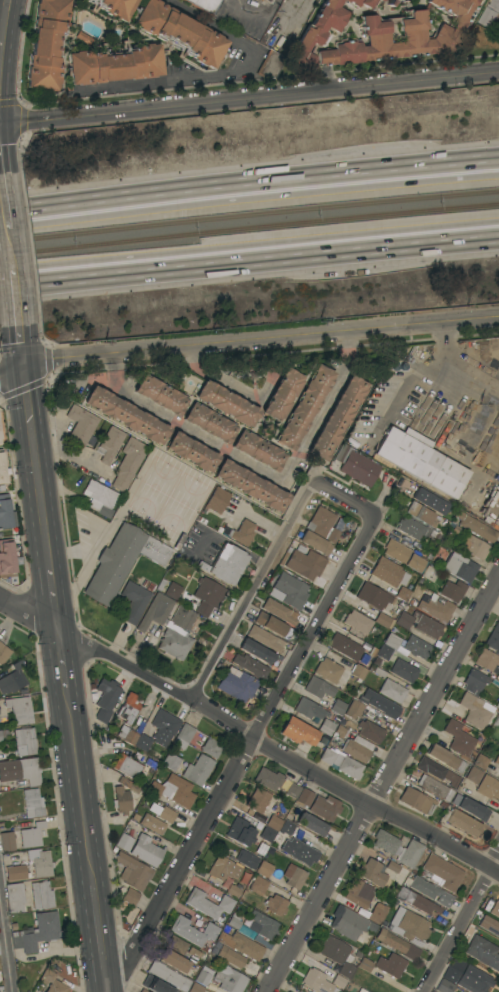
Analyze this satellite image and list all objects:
building: (268, 1)
building: (203, 5)
building: (116, 7)
road: (268, 13)
building: (488, 13)
road: (4, 19)
building: (382, 30)
building: (179, 32)
building: (83, 38)
road: (0, 44)
building: (46, 45)
building: (113, 64)
building: (270, 65)
road: (225, 75)
road: (249, 97)
road: (9, 100)
road: (249, 191)
railway: (249, 215)
road: (5, 221)
railway: (249, 228)
road: (249, 253)
road: (13, 293)
road: (304, 336)
road: (19, 347)
road: (66, 364)
road: (456, 367)
traffic signals: (22, 370)
road: (11, 371)
building: (160, 395)
building: (282, 395)
building: (226, 403)
building: (304, 407)
building: (126, 415)
building: (337, 418)
building: (209, 423)
road: (58, 424)
building: (80, 425)
building: (0, 441)
building: (110, 444)
building: (258, 450)
building: (191, 452)
road: (69, 457)
building: (421, 460)
road: (489, 460)
building: (128, 463)
building: (356, 466)
road: (260, 467)
road: (35, 469)
building: (2, 470)
building: (250, 485)
road: (345, 496)
building: (99, 498)
building: (216, 500)
building: (430, 501)
building: (4, 512)
road: (296, 513)
building: (425, 516)
road: (258, 520)
building: (322, 525)
building: (476, 528)
building: (415, 530)
building: (243, 533)
road: (104, 536)
building: (315, 543)
building: (475, 547)
building: (402, 555)
building: (6, 559)
building: (122, 561)
building: (305, 563)
building: (225, 565)
building: (460, 567)
building: (386, 571)
building: (173, 591)
building: (288, 591)
building: (453, 591)
building: (403, 593)
building: (207, 596)
building: (373, 596)
road: (53, 600)
building: (133, 601)
building: (435, 608)
building: (278, 611)
road: (236, 620)
building: (383, 620)
building: (404, 620)
building: (358, 622)
building: (169, 625)
building: (272, 625)
building: (426, 625)
building: (493, 638)
building: (265, 639)
building: (345, 647)
building: (388, 647)
building: (417, 647)
building: (256, 651)
building: (3, 653)
building: (498, 653)
road: (61, 659)
building: (487, 660)
building: (250, 666)
building: (328, 670)
building: (404, 671)
building: (359, 672)
building: (379, 673)
building: (14, 678)
building: (474, 682)
building: (494, 683)
building: (237, 684)
building: (318, 688)
building: (392, 691)
building: (498, 693)
building: (106, 699)
building: (379, 704)
building: (497, 704)
building: (337, 707)
building: (128, 708)
building: (19, 710)
building: (310, 710)
building: (474, 711)
building: (367, 721)
building: (496, 721)
building: (164, 727)
building: (326, 727)
building: (298, 732)
building: (340, 732)
building: (126, 734)
building: (183, 736)
road: (250, 736)
building: (0, 738)
building: (458, 738)
building: (24, 741)
building: (142, 742)
building: (211, 748)
building: (357, 749)
road: (241, 755)
building: (446, 758)
building: (496, 760)
building: (480, 761)
building: (171, 762)
building: (341, 763)
building: (132, 766)
building: (198, 770)
building: (21, 771)
building: (437, 771)
building: (473, 775)
building: (268, 779)
building: (128, 785)
road: (78, 786)
road: (382, 786)
building: (488, 787)
building: (435, 788)
building: (155, 789)
building: (292, 790)
building: (180, 791)
building: (304, 798)
building: (121, 800)
building: (258, 800)
building: (417, 801)
building: (32, 803)
building: (324, 807)
building: (470, 807)
building: (166, 815)
building: (462, 822)
building: (152, 824)
building: (311, 824)
building: (272, 825)
building: (286, 828)
building: (240, 832)
building: (31, 835)
building: (7, 841)
building: (124, 842)
building: (385, 842)
building: (146, 851)
building: (299, 851)
building: (409, 855)
building: (247, 859)
building: (40, 863)
building: (392, 867)
building: (223, 869)
building: (264, 869)
building: (16, 872)
building: (372, 872)
building: (442, 873)
building: (132, 877)
building: (294, 877)
building: (258, 885)
building: (234, 890)
building: (428, 891)
building: (41, 895)
building: (357, 895)
building: (14, 897)
building: (417, 901)
building: (208, 904)
building: (275, 905)
building: (494, 909)
building: (378, 914)
building: (350, 923)
road: (460, 923)
building: (238, 925)
building: (262, 925)
building: (489, 925)
building: (409, 926)
building: (193, 931)
building: (36, 932)
road: (97, 938)
building: (396, 944)
building: (176, 945)
building: (241, 945)
building: (206, 950)
building: (481, 951)
road: (5, 953)
building: (194, 953)
building: (338, 955)
building: (231, 957)
building: (173, 961)
building: (365, 965)
building: (390, 965)
building: (168, 975)
building: (451, 975)
building: (202, 978)
building: (474, 979)
building: (230, 980)
building: (316, 981)
building: (338, 981)
building: (52, 982)
building: (155, 985)
building: (444, 986)
building: (196, 988)
building: (361, 990)
building: (143, 991)

